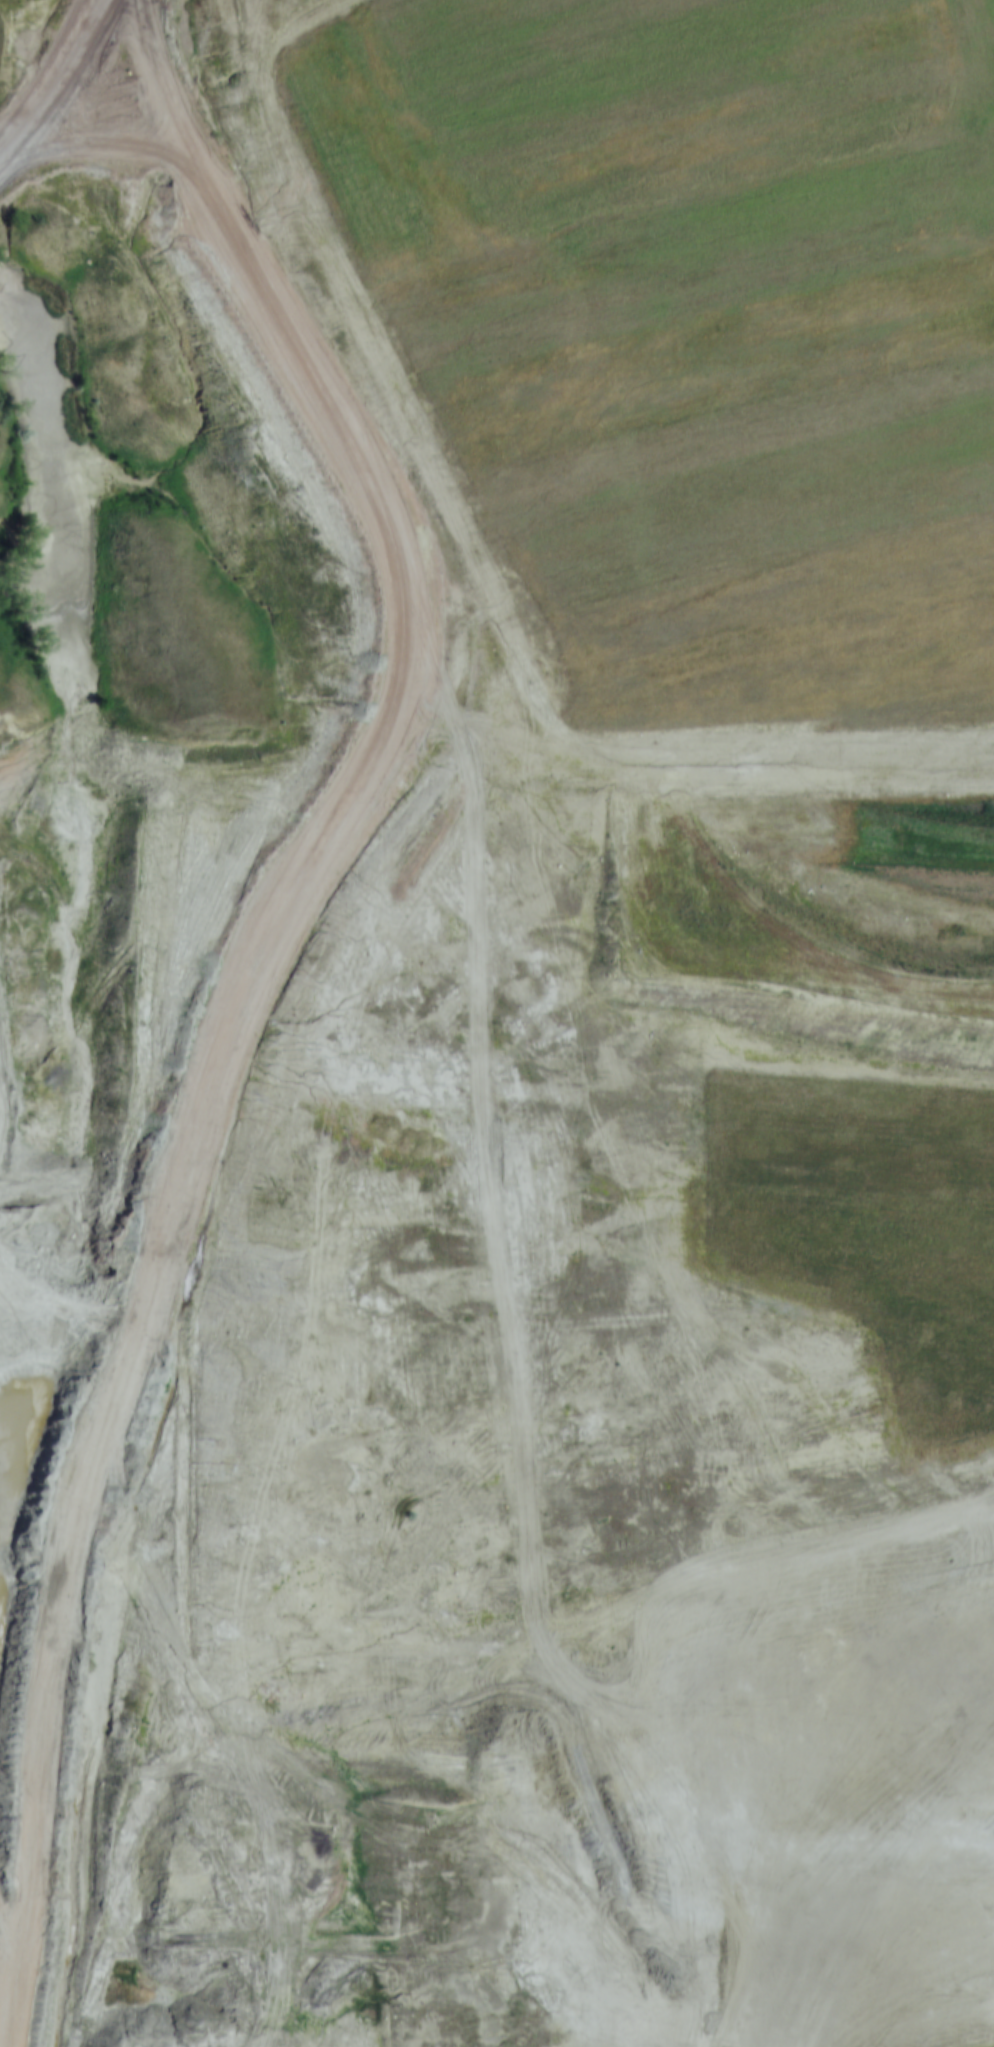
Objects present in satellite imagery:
road: (146, 85)
road: (497, 763)

